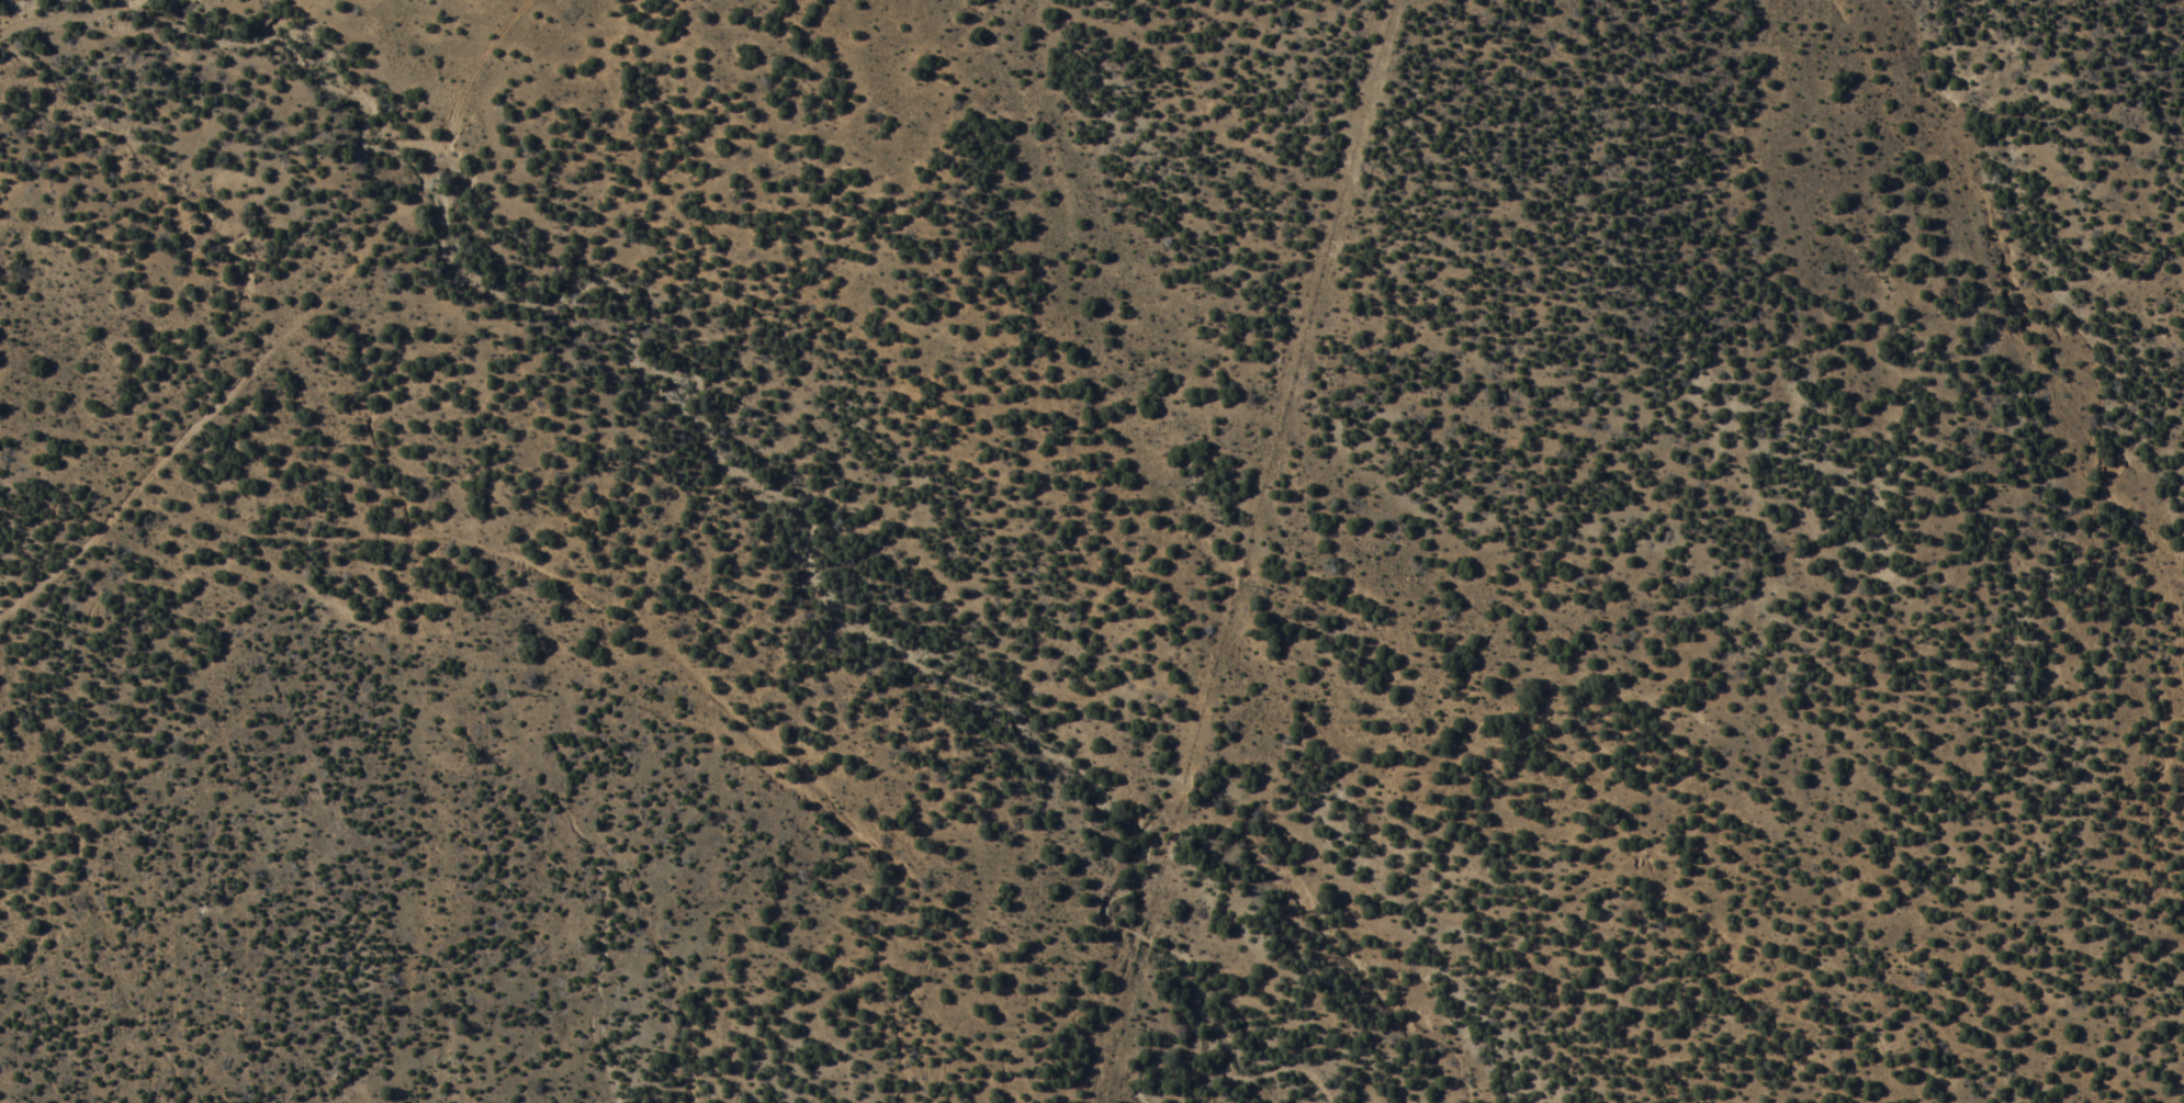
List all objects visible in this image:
road: (43, 23)
road: (1239, 551)

